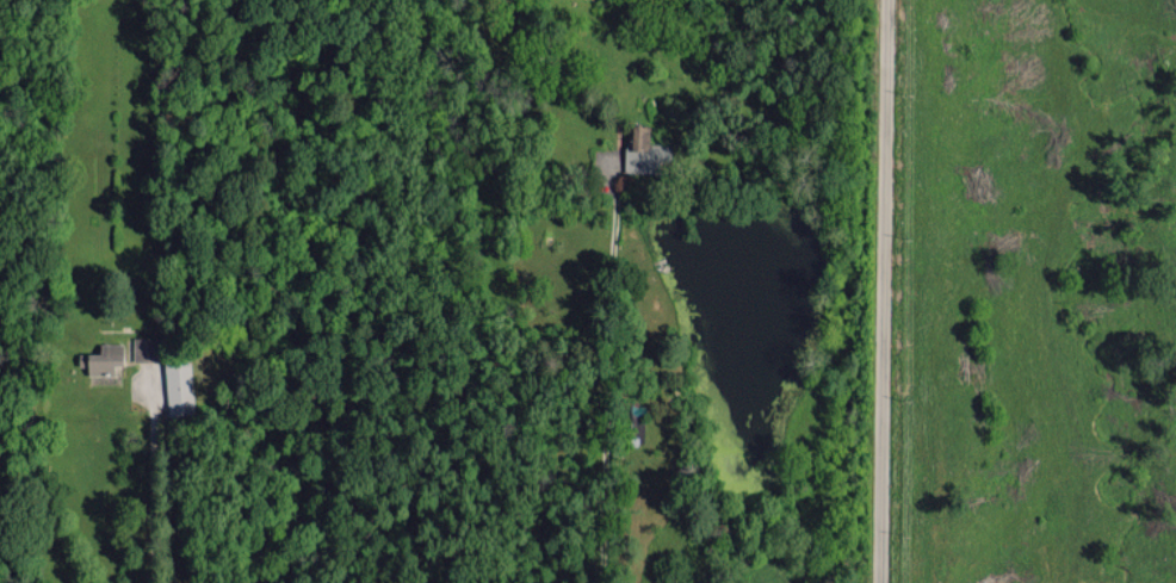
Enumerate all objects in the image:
road: (866, 291)
building: (104, 359)
road: (609, 376)
building: (178, 385)

